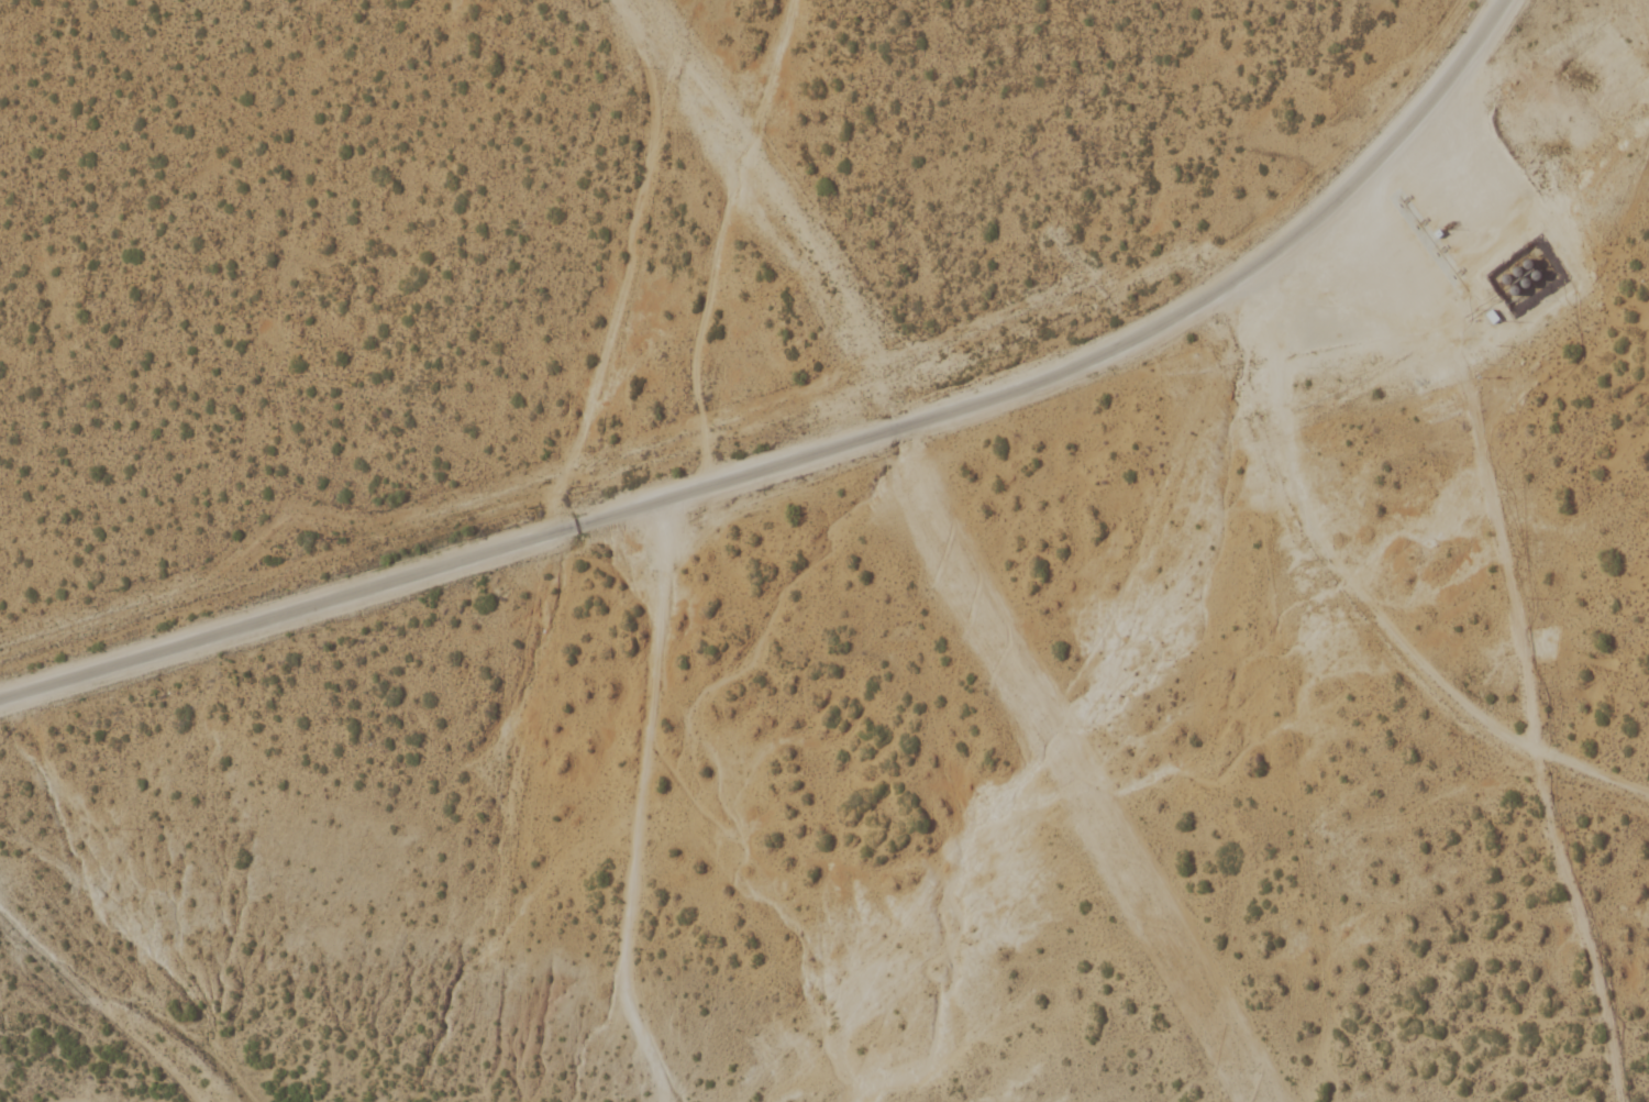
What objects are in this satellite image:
road: (811, 455)
road: (1364, 591)
road: (638, 805)

